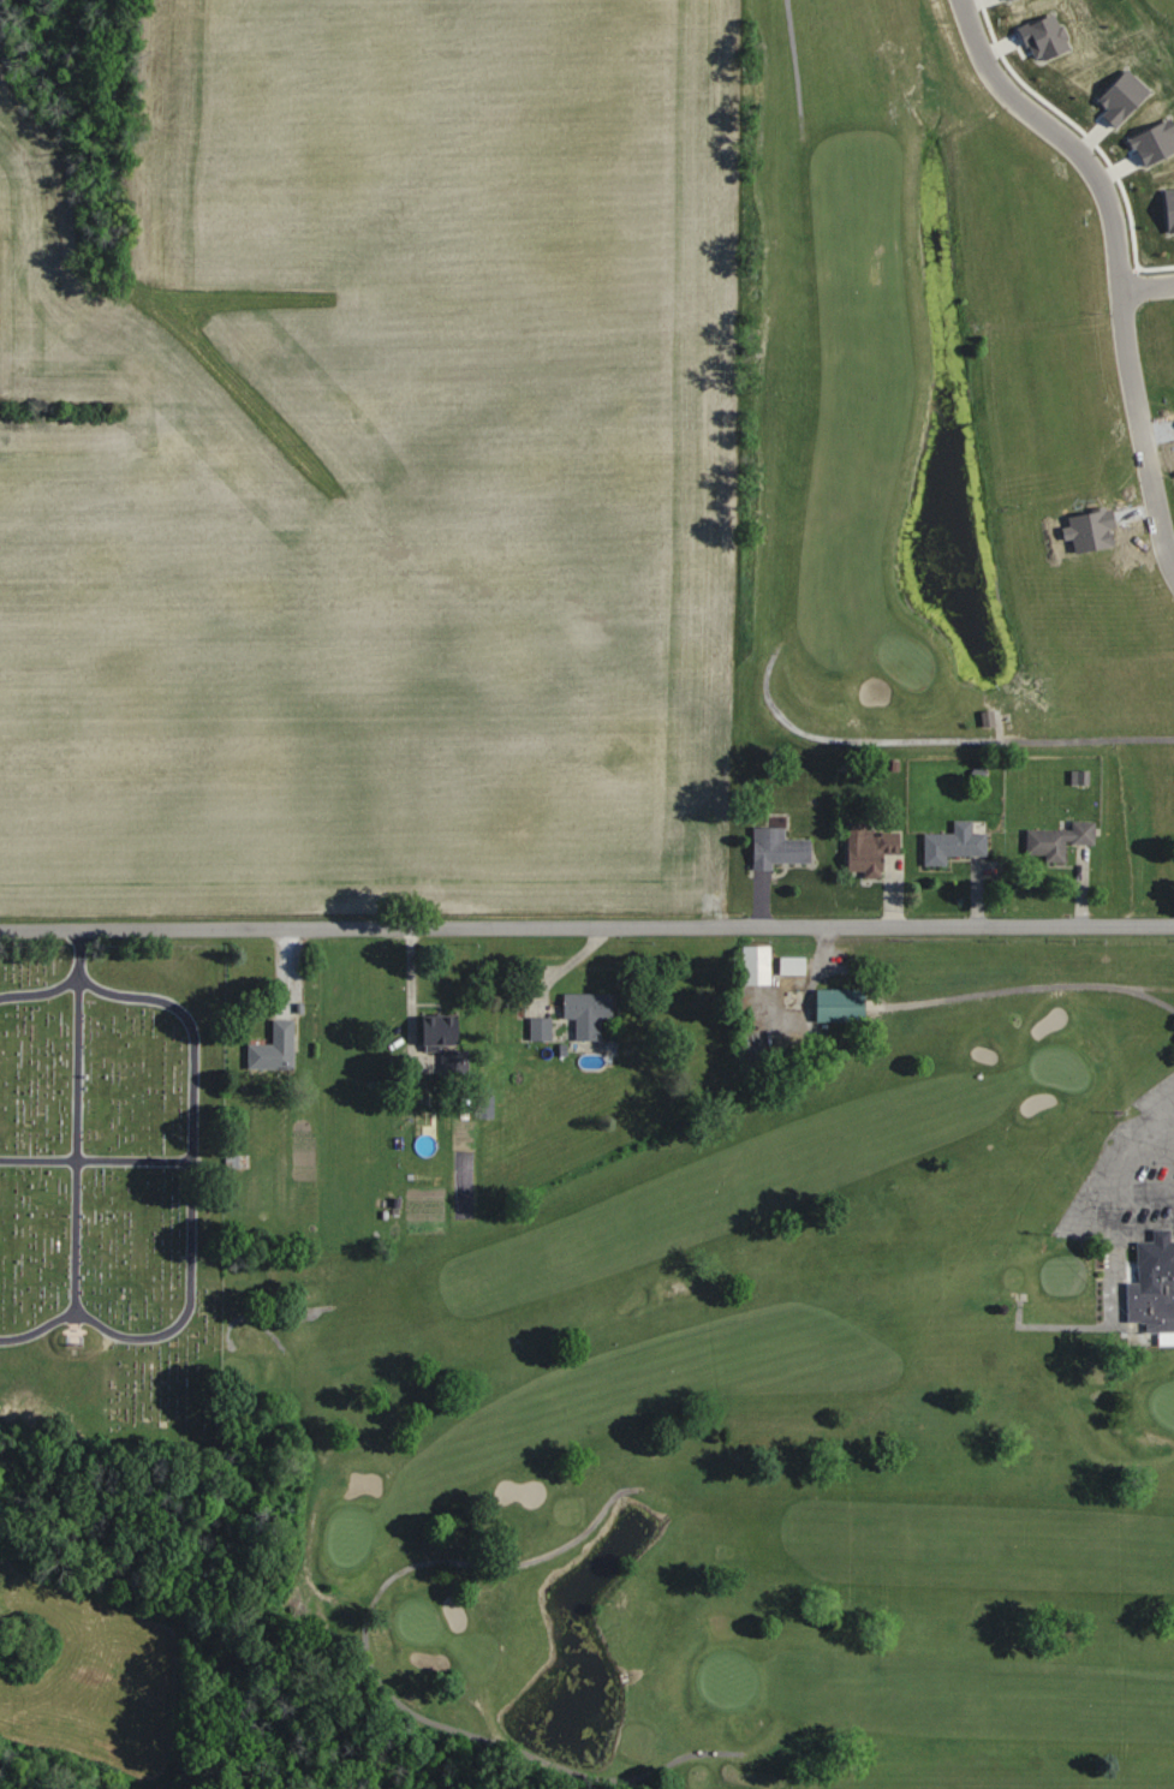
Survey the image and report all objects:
road: (795, 70)
road: (1118, 261)
road: (1148, 287)
park: (957, 372)
park: (905, 657)
road: (937, 739)
building: (1060, 841)
building: (955, 845)
building: (779, 848)
building: (871, 849)
road: (586, 925)
building: (757, 965)
building: (792, 966)
building: (841, 1006)
building: (589, 1013)
building: (541, 1030)
building: (441, 1032)
building: (275, 1049)
park: (1065, 1062)
park: (109, 1197)
road: (1081, 1228)
building: (1154, 1287)
road: (1049, 1323)
park: (1168, 1401)
park: (768, 1423)
park: (729, 1675)
road: (377, 1678)

